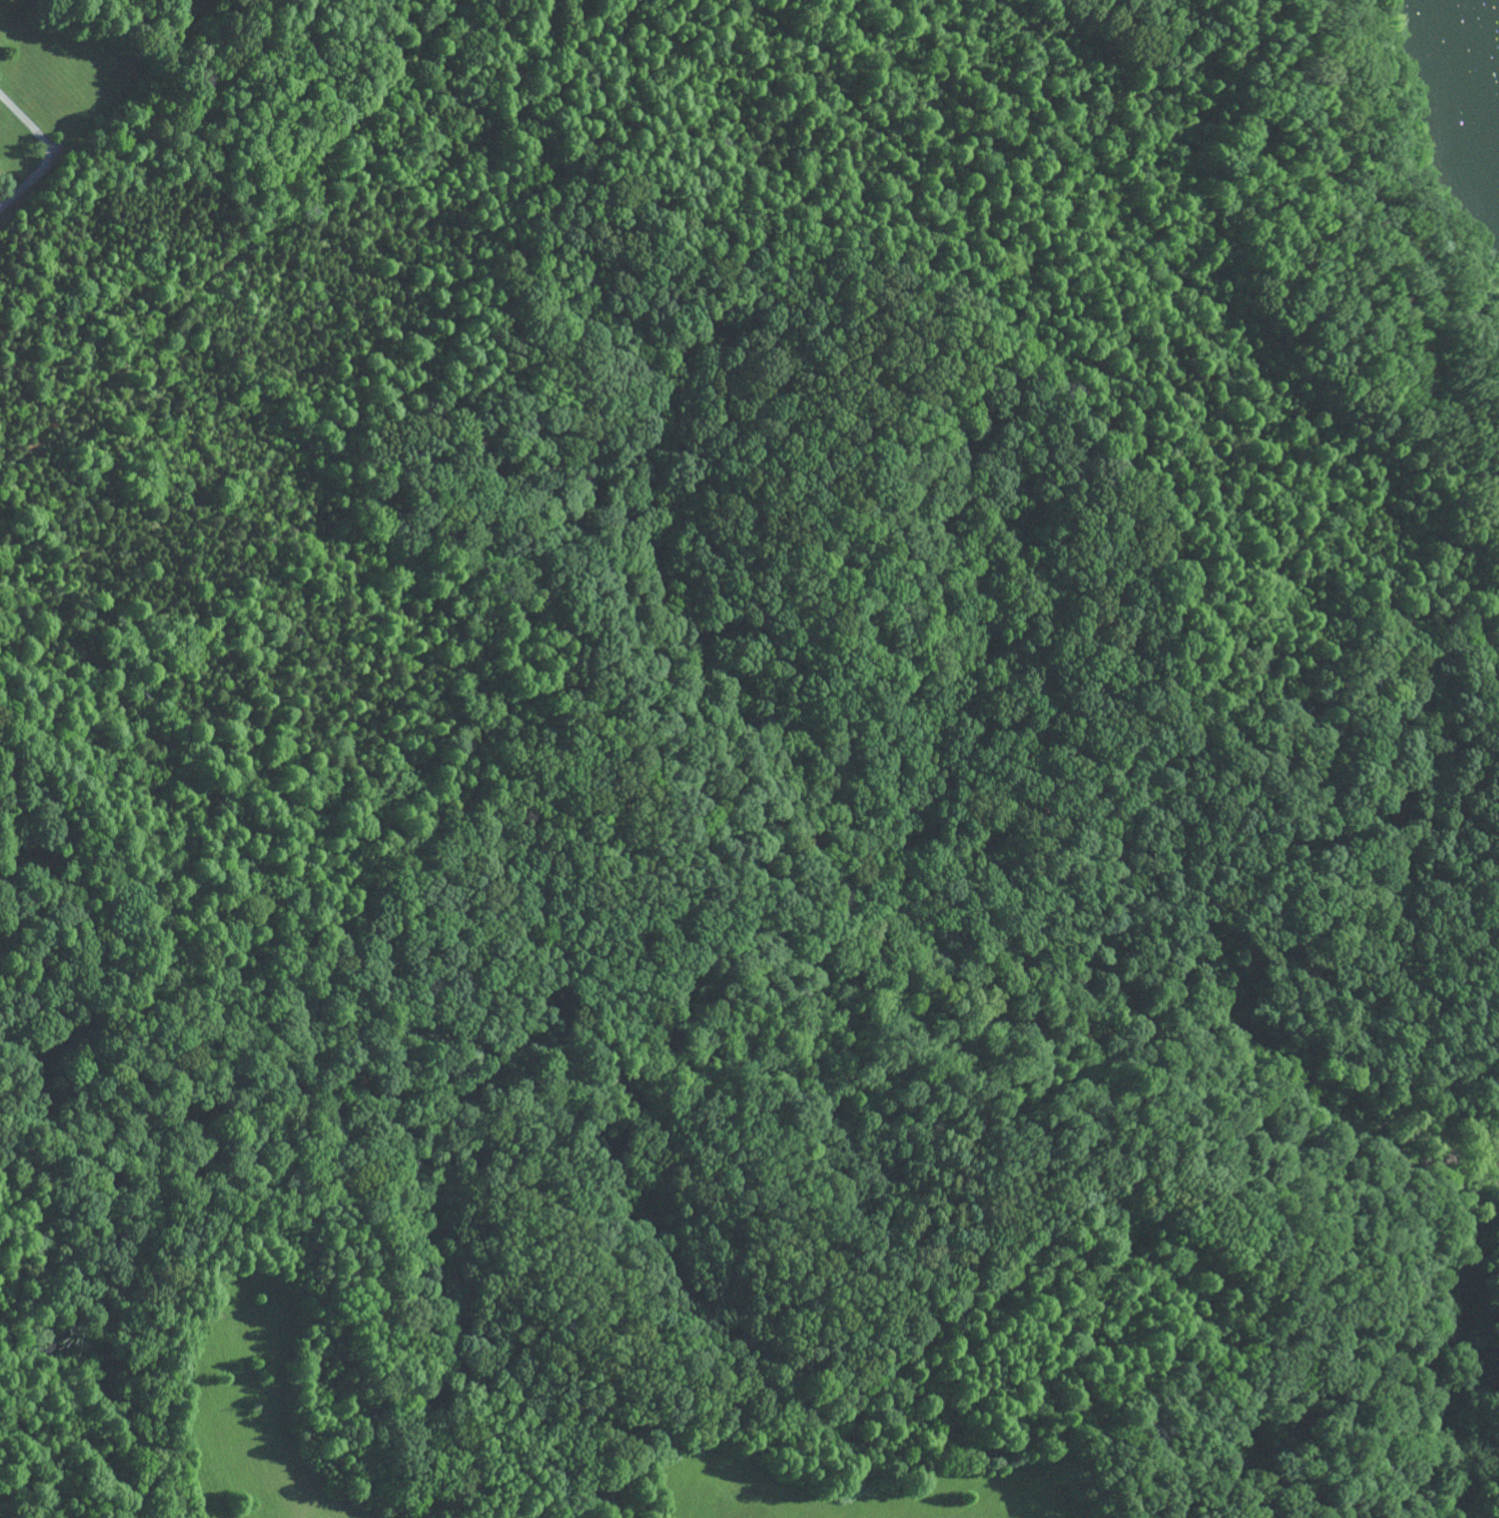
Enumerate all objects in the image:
road: (27, 184)
park: (750, 770)

